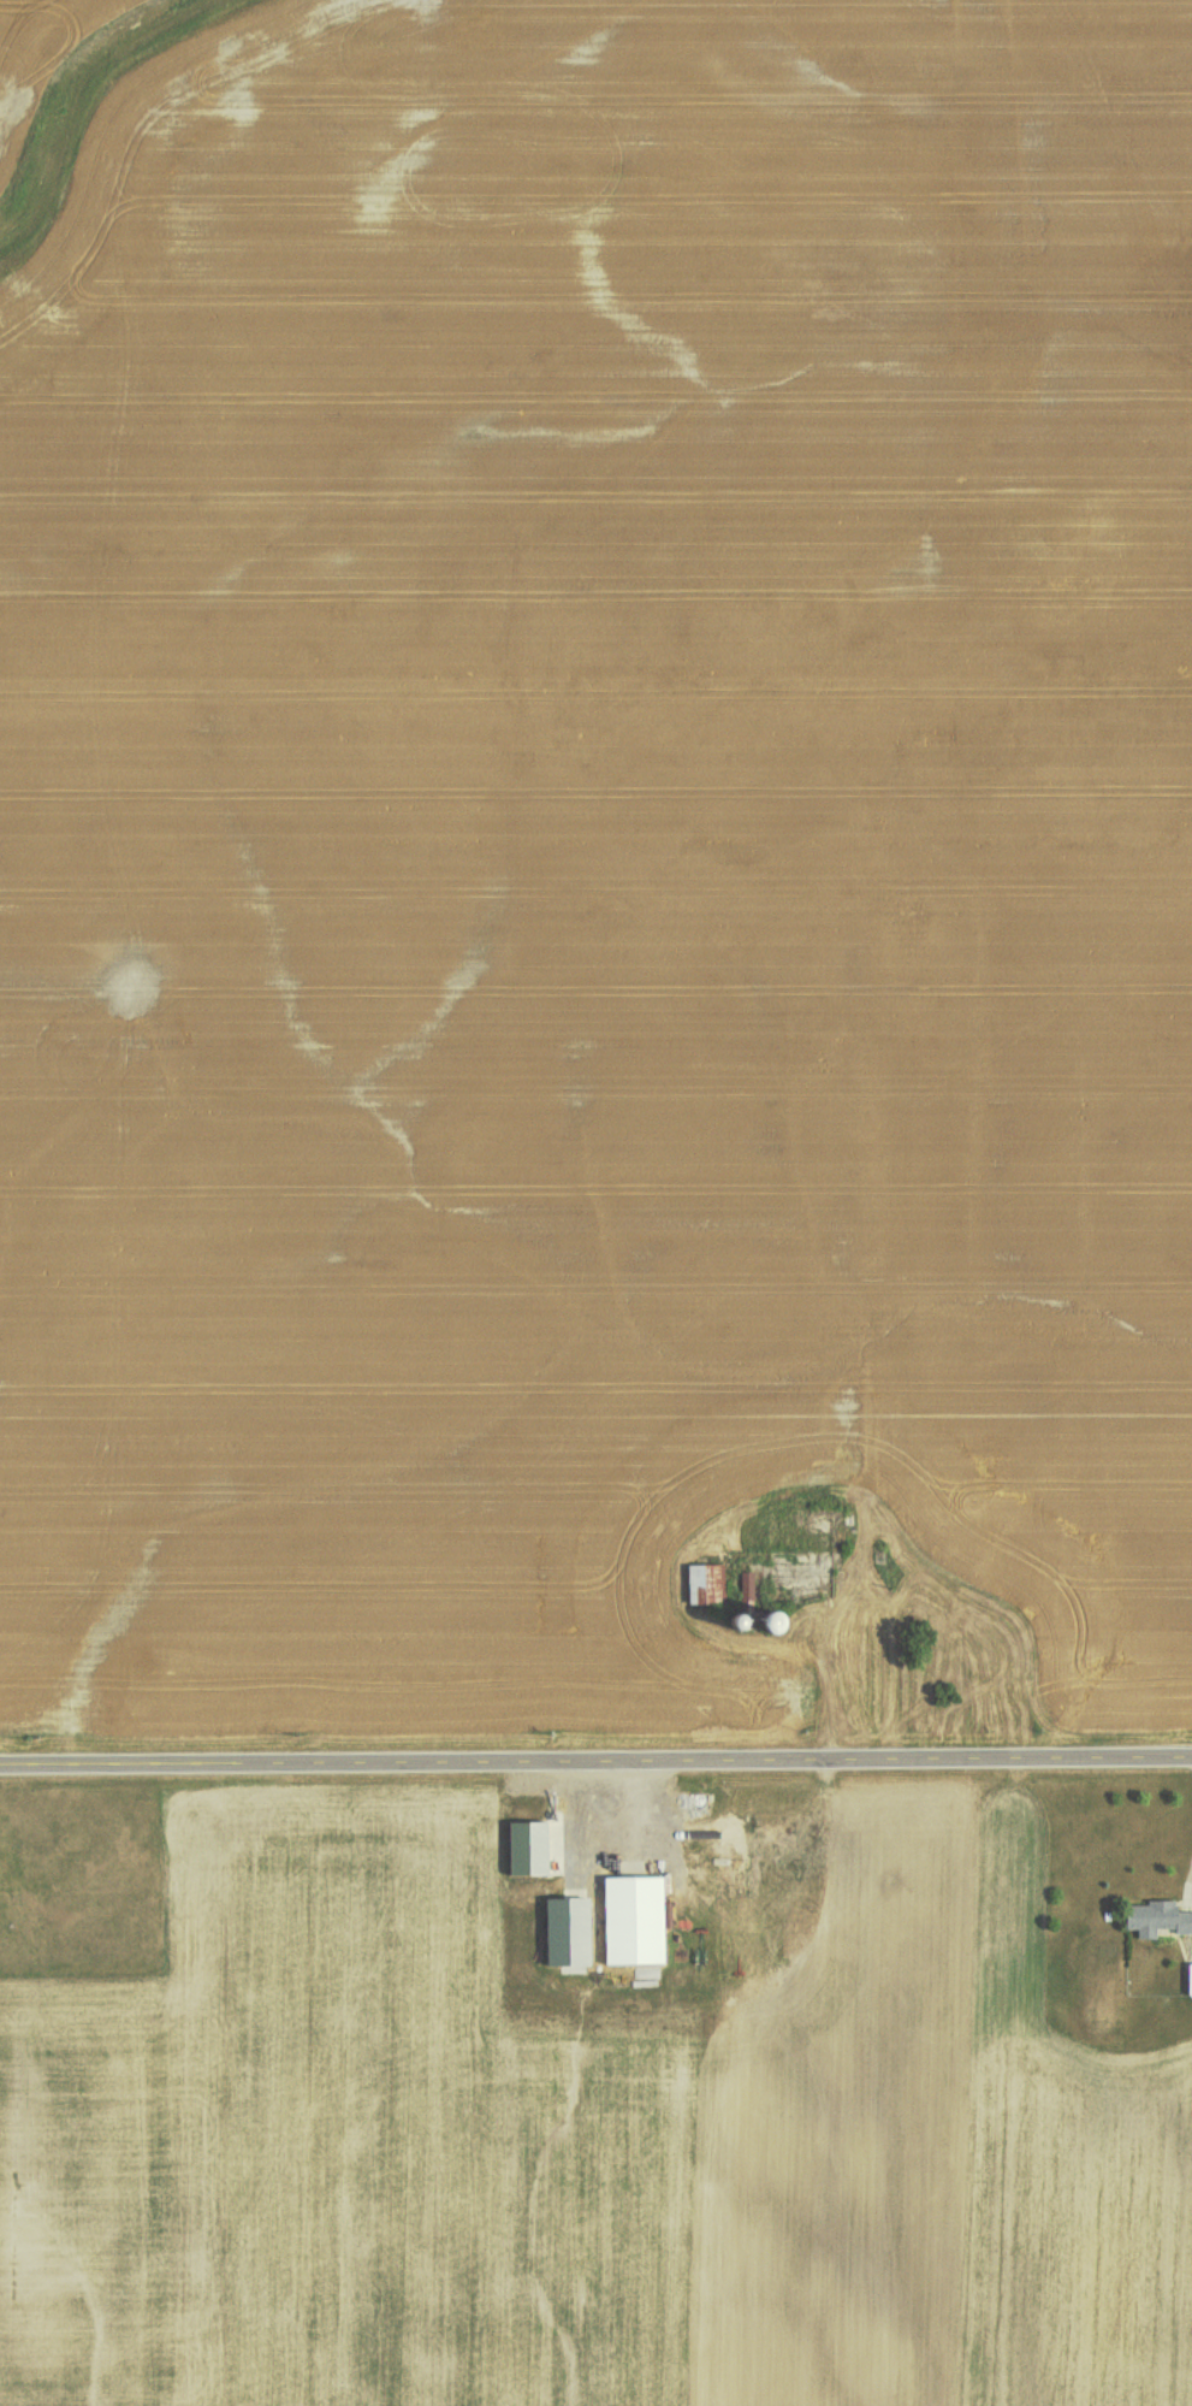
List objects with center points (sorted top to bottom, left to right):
building: (705, 1583)
road: (595, 1762)
building: (526, 1846)
building: (1157, 1917)
building: (633, 1919)
building: (565, 1931)
building: (1190, 1979)

